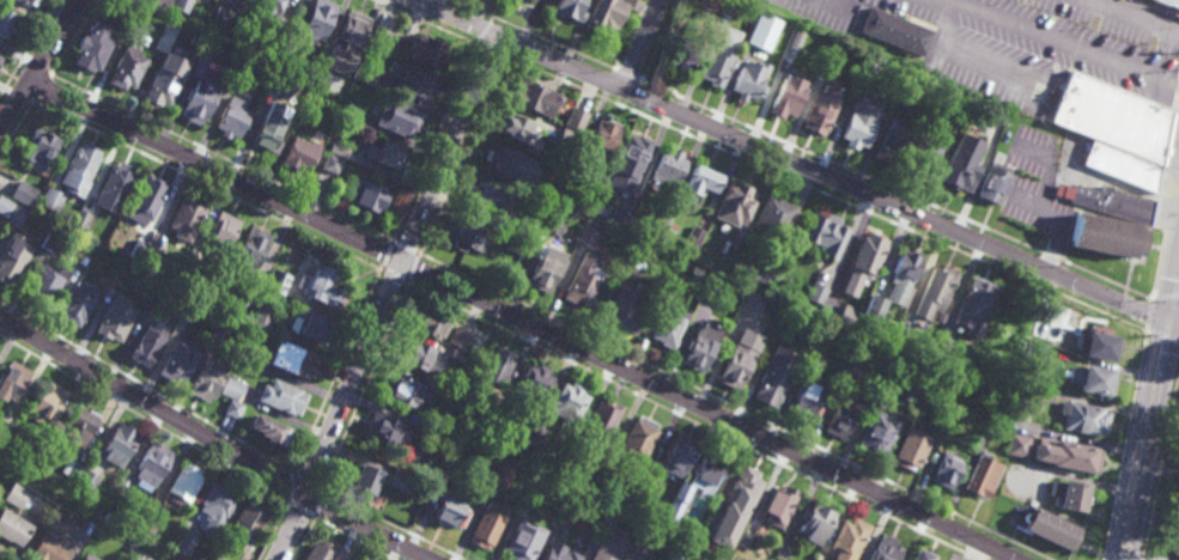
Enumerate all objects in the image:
building: (533, 0)
building: (25, 1)
building: (1167, 1)
building: (237, 4)
building: (120, 5)
building: (159, 5)
building: (180, 5)
building: (269, 5)
building: (704, 5)
road: (843, 6)
road: (1160, 6)
building: (565, 7)
building: (129, 13)
building: (603, 13)
building: (721, 13)
road: (1137, 16)
building: (315, 18)
building: (6, 22)
road: (423, 22)
road: (481, 29)
building: (762, 30)
building: (895, 30)
building: (379, 35)
road: (534, 35)
road: (73, 36)
building: (162, 38)
building: (345, 39)
road: (658, 39)
road: (510, 41)
road: (1062, 42)
building: (91, 44)
road: (642, 44)
parking lot: (1026, 45)
building: (819, 47)
road: (29, 48)
building: (420, 49)
road: (488, 49)
building: (677, 53)
building: (0, 56)
building: (282, 56)
building: (719, 56)
road: (1072, 60)
road: (980, 61)
road: (38, 62)
building: (826, 63)
building: (197, 65)
building: (870, 65)
road: (37, 66)
building: (124, 66)
building: (364, 71)
building: (243, 72)
road: (628, 75)
building: (776, 78)
building: (412, 79)
building: (749, 79)
building: (162, 83)
road: (1059, 83)
road: (41, 86)
building: (266, 86)
road: (19, 92)
road: (1119, 93)
road: (1178, 93)
building: (533, 95)
building: (789, 95)
building: (195, 98)
building: (346, 108)
building: (821, 109)
building: (229, 115)
building: (396, 115)
building: (956, 118)
building: (1108, 118)
building: (576, 122)
building: (859, 123)
building: (266, 124)
building: (512, 126)
road: (16, 127)
building: (598, 135)
building: (564, 136)
road: (433, 141)
building: (893, 141)
building: (323, 144)
building: (39, 145)
building: (336, 147)
building: (297, 152)
building: (385, 152)
road: (1163, 152)
road: (462, 154)
building: (923, 154)
road: (221, 156)
building: (627, 160)
building: (329, 162)
building: (506, 162)
road: (791, 162)
building: (80, 163)
building: (667, 165)
road: (843, 165)
building: (1120, 166)
building: (958, 168)
building: (571, 169)
building: (700, 179)
building: (992, 182)
building: (114, 183)
road: (1159, 184)
road: (205, 185)
building: (23, 191)
building: (1064, 191)
road: (825, 193)
building: (369, 194)
building: (542, 194)
building: (144, 196)
building: (484, 197)
building: (50, 199)
building: (1110, 201)
building: (735, 202)
road: (1159, 203)
building: (5, 206)
building: (620, 212)
building: (666, 214)
building: (17, 215)
building: (183, 215)
building: (773, 217)
building: (79, 219)
building: (524, 225)
building: (552, 225)
building: (670, 230)
building: (218, 231)
building: (826, 233)
building: (1102, 233)
building: (464, 235)
building: (587, 236)
building: (693, 236)
building: (49, 241)
building: (513, 243)
building: (248, 246)
road: (407, 246)
building: (135, 250)
road: (384, 255)
road: (1052, 256)
building: (13, 257)
building: (152, 258)
building: (863, 261)
building: (83, 262)
building: (541, 267)
road: (413, 269)
building: (762, 270)
building: (900, 274)
building: (115, 275)
road: (391, 276)
building: (275, 280)
building: (581, 280)
road: (1107, 280)
building: (45, 282)
building: (323, 286)
building: (935, 287)
building: (250, 290)
building: (152, 291)
building: (712, 292)
building: (816, 293)
road: (384, 297)
road: (1166, 298)
road: (1174, 299)
building: (78, 302)
building: (753, 303)
building: (971, 305)
building: (625, 306)
building: (188, 308)
building: (871, 308)
building: (743, 310)
road: (1148, 315)
building: (260, 317)
building: (847, 317)
building: (113, 318)
building: (427, 321)
road: (522, 321)
building: (668, 322)
traffic signals: (1171, 322)
road: (1174, 322)
building: (311, 324)
building: (778, 324)
building: (888, 325)
building: (901, 328)
building: (456, 336)
road: (1162, 336)
building: (815, 340)
building: (1096, 342)
building: (145, 345)
building: (699, 346)
building: (938, 347)
building: (241, 354)
building: (455, 354)
building: (417, 355)
building: (288, 359)
building: (175, 361)
building: (493, 366)
building: (734, 366)
road: (335, 371)
building: (774, 376)
building: (841, 377)
building: (203, 378)
building: (1094, 379)
building: (12, 381)
building: (530, 382)
building: (1022, 384)
building: (978, 385)
road: (145, 386)
road: (363, 386)
building: (230, 388)
building: (886, 388)
building: (403, 390)
building: (280, 396)
building: (807, 396)
building: (906, 396)
building: (566, 401)
building: (48, 403)
road: (735, 407)
building: (231, 408)
building: (843, 414)
building: (1082, 418)
road: (144, 420)
building: (600, 420)
road: (685, 420)
building: (80, 422)
building: (986, 425)
building: (1017, 426)
building: (383, 428)
building: (267, 430)
building: (1, 433)
building: (432, 433)
building: (875, 434)
building: (637, 438)
building: (530, 439)
road: (214, 440)
road: (1147, 440)
building: (1017, 443)
building: (116, 445)
road: (1123, 445)
building: (908, 449)
building: (1015, 452)
building: (35, 454)
building: (675, 455)
building: (566, 456)
building: (1072, 456)
building: (449, 459)
building: (511, 462)
building: (150, 465)
road: (1160, 467)
building: (69, 468)
building: (943, 470)
building: (706, 474)
building: (499, 475)
building: (979, 475)
building: (607, 477)
road: (305, 479)
building: (85, 481)
building: (361, 481)
building: (396, 481)
building: (582, 482)
building: (182, 483)
road: (290, 487)
building: (639, 494)
building: (16, 495)
building: (1066, 495)
road: (316, 504)
building: (118, 505)
building: (214, 505)
building: (778, 505)
building: (674, 506)
building: (734, 506)
road: (300, 511)
building: (566, 511)
building: (445, 513)
building: (815, 522)
road: (389, 524)
building: (13, 525)
building: (484, 525)
building: (601, 525)
building: (243, 526)
building: (1044, 528)
road: (272, 531)
building: (50, 537)
building: (847, 537)
building: (642, 538)
road: (304, 540)
road: (353, 540)
building: (521, 540)
building: (743, 540)
building: (180, 544)
building: (133, 546)
building: (608, 546)
building: (882, 549)
building: (318, 550)
building: (783, 552)
building: (555, 553)
building: (919, 555)
building: (673, 556)
road: (968, 556)
building: (89, 558)
building: (350, 559)

